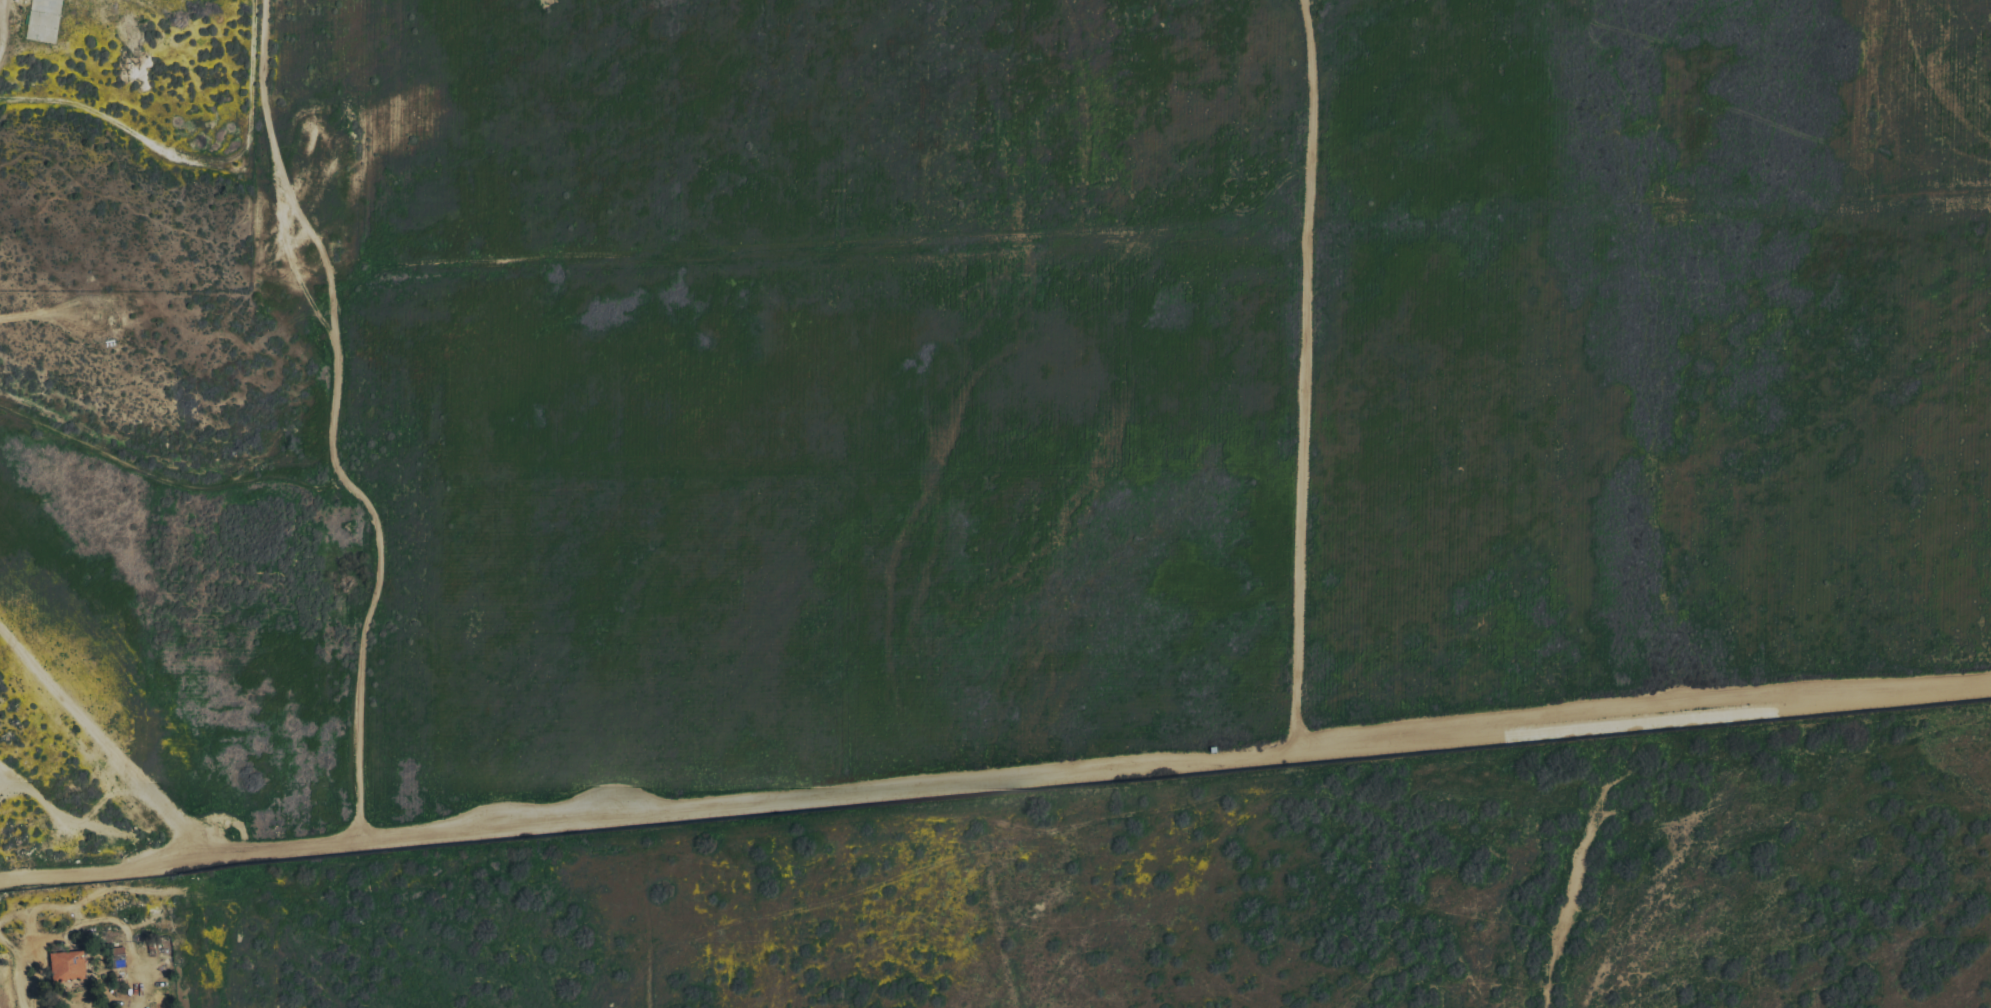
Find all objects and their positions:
park: (126, 145)
road: (995, 784)
road: (75, 820)
building: (57, 965)
road: (14, 971)

